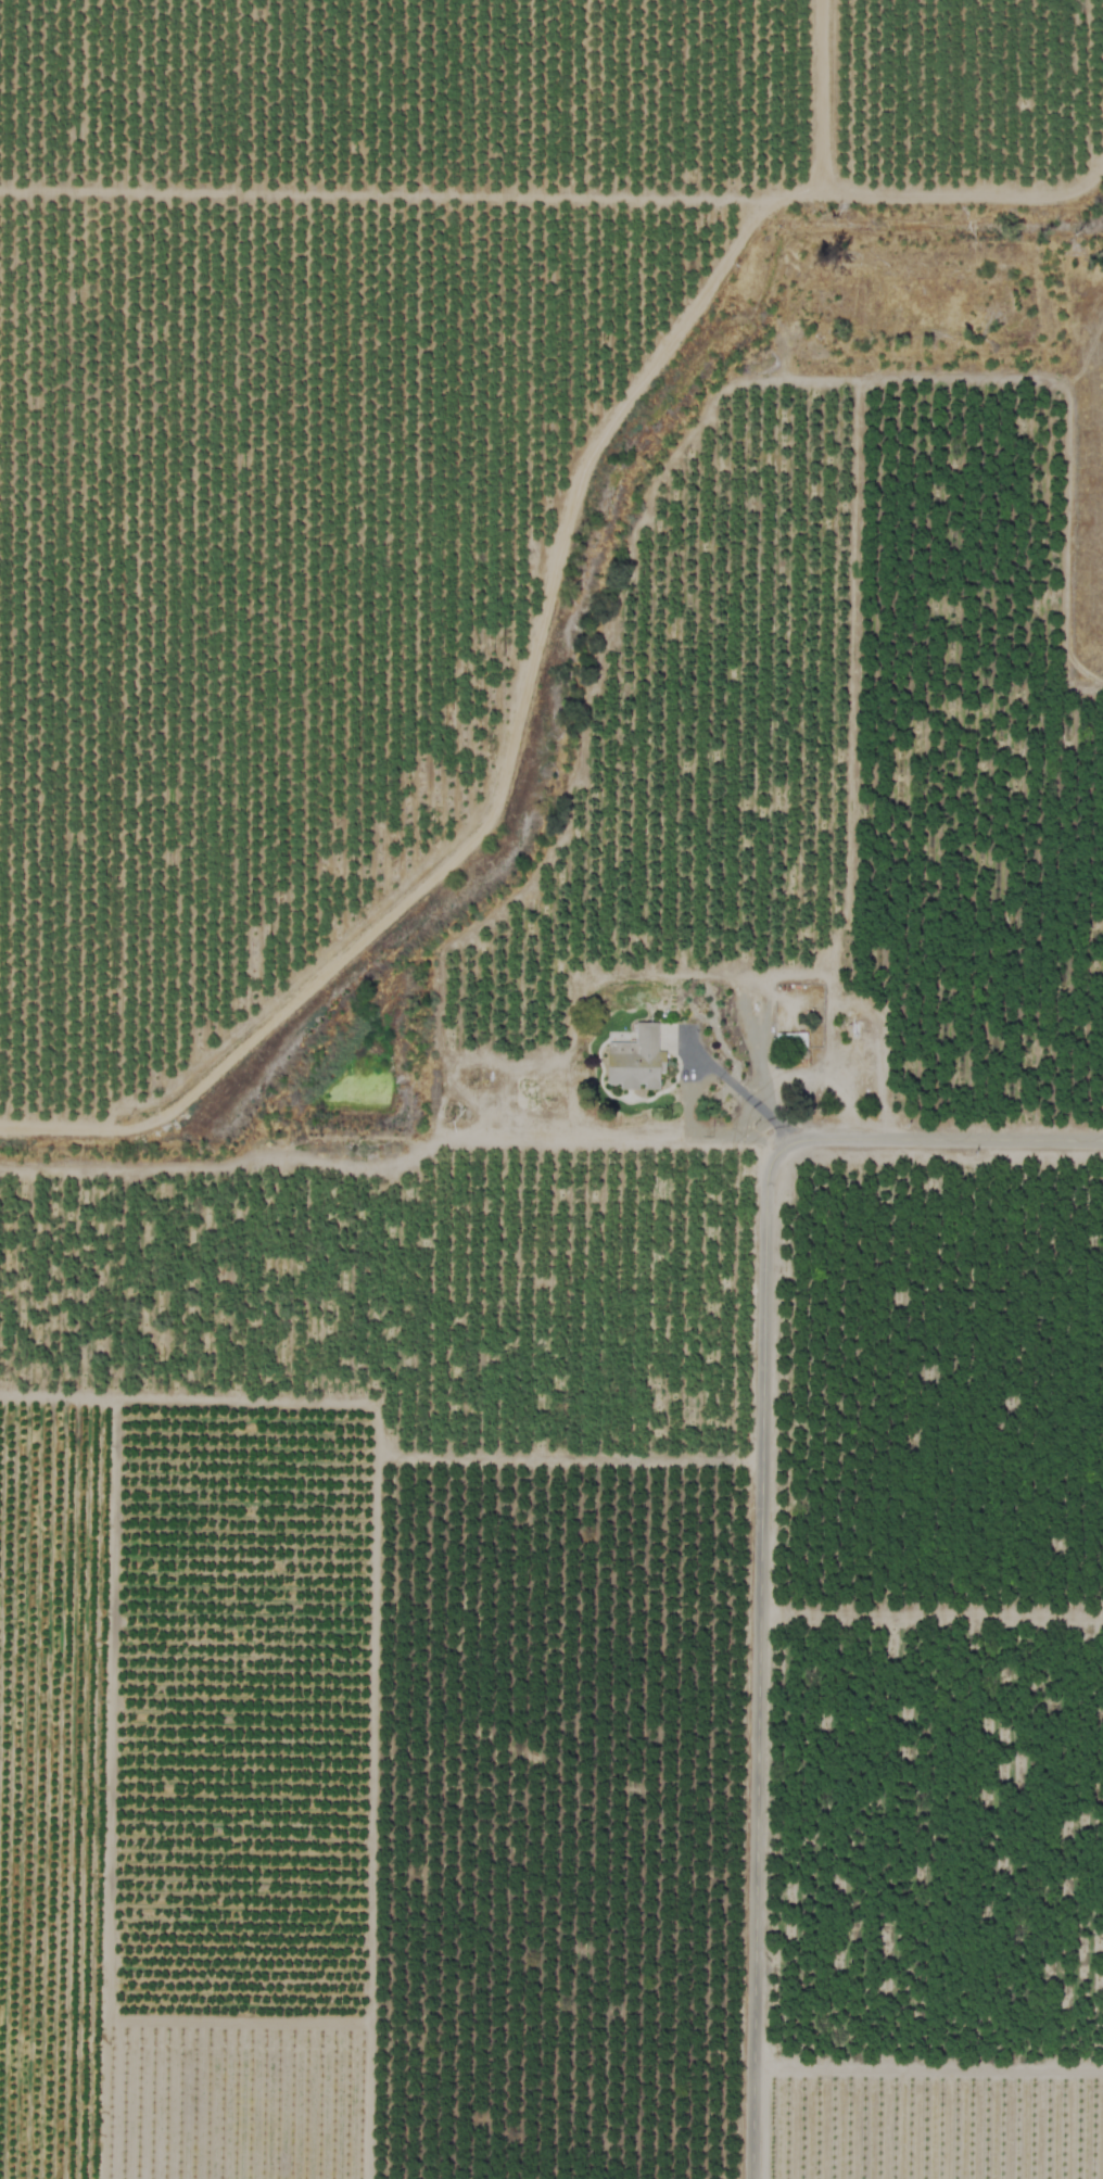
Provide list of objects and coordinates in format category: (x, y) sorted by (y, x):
building: (791, 1040)
building: (635, 1060)
crop: (551, 1089)
road: (741, 1093)
road: (549, 1133)
road: (760, 1652)

